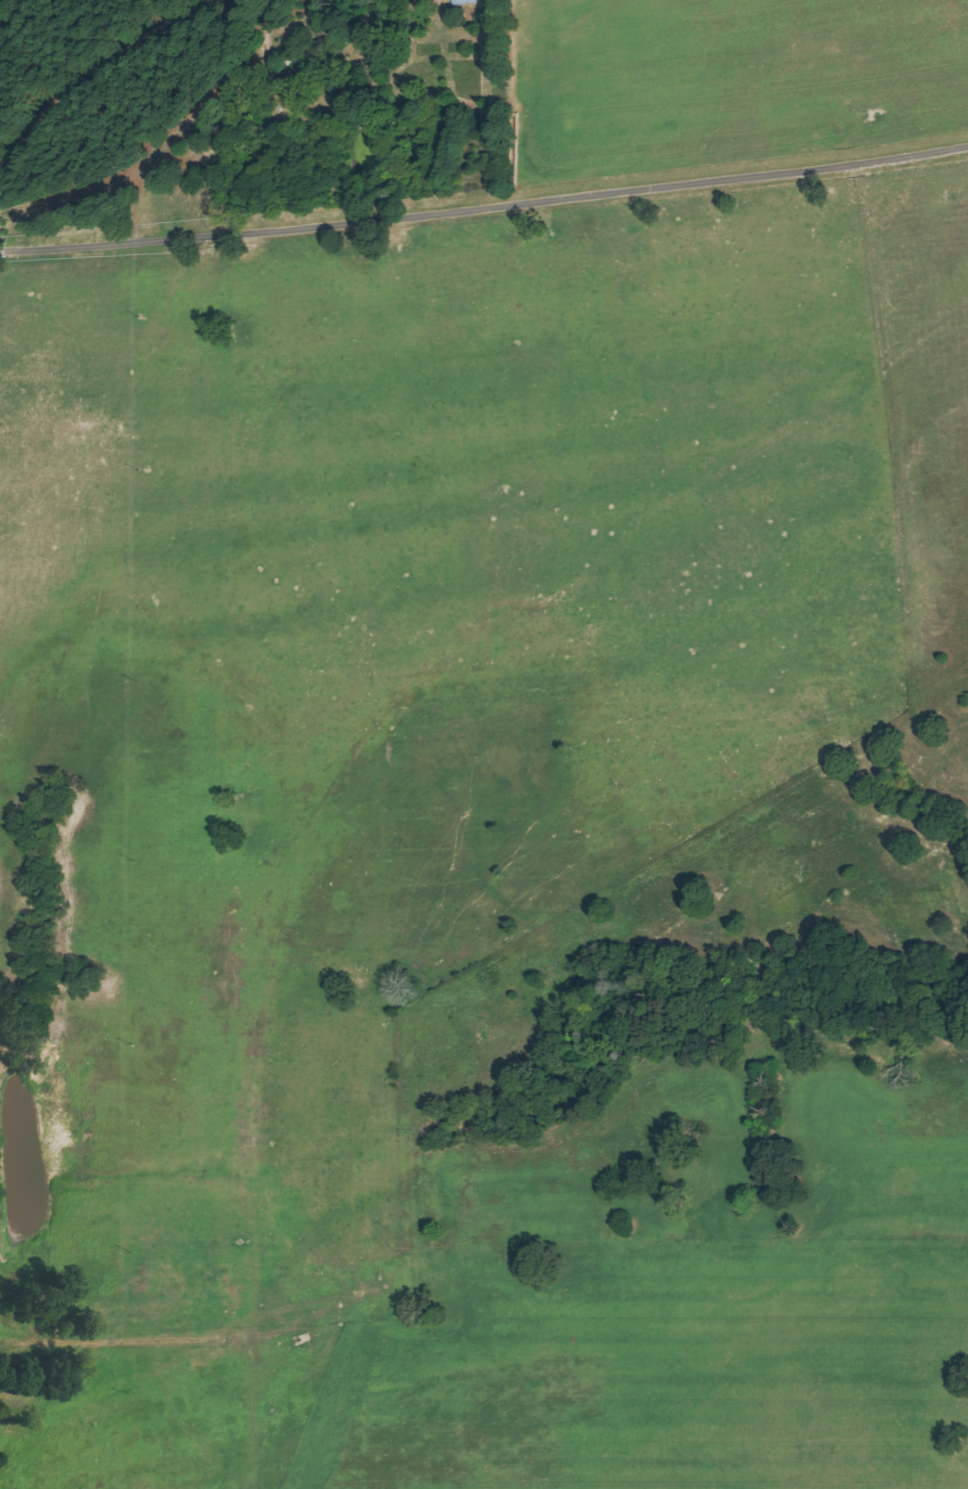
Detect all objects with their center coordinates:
building: (466, 2)
road: (98, 69)
road: (484, 207)

